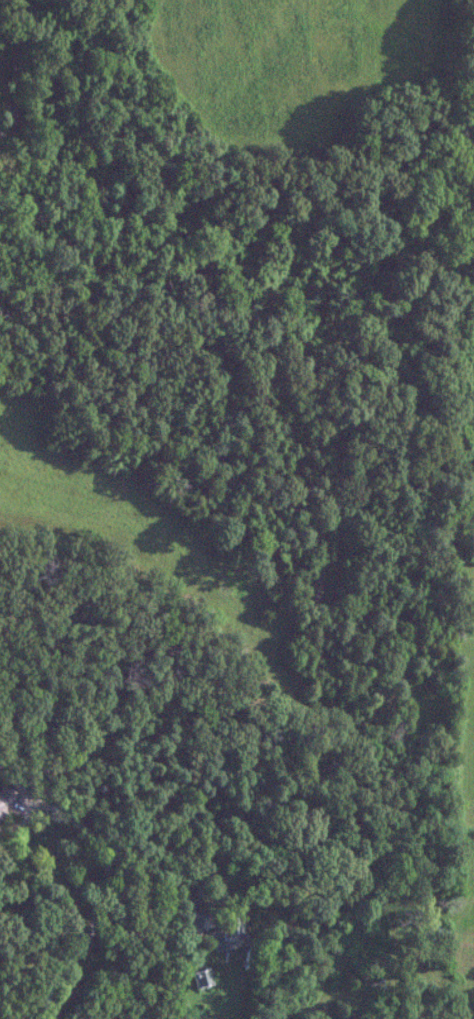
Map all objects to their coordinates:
building: (4, 798)
road: (92, 908)
building: (197, 911)
building: (200, 977)
road: (168, 989)

